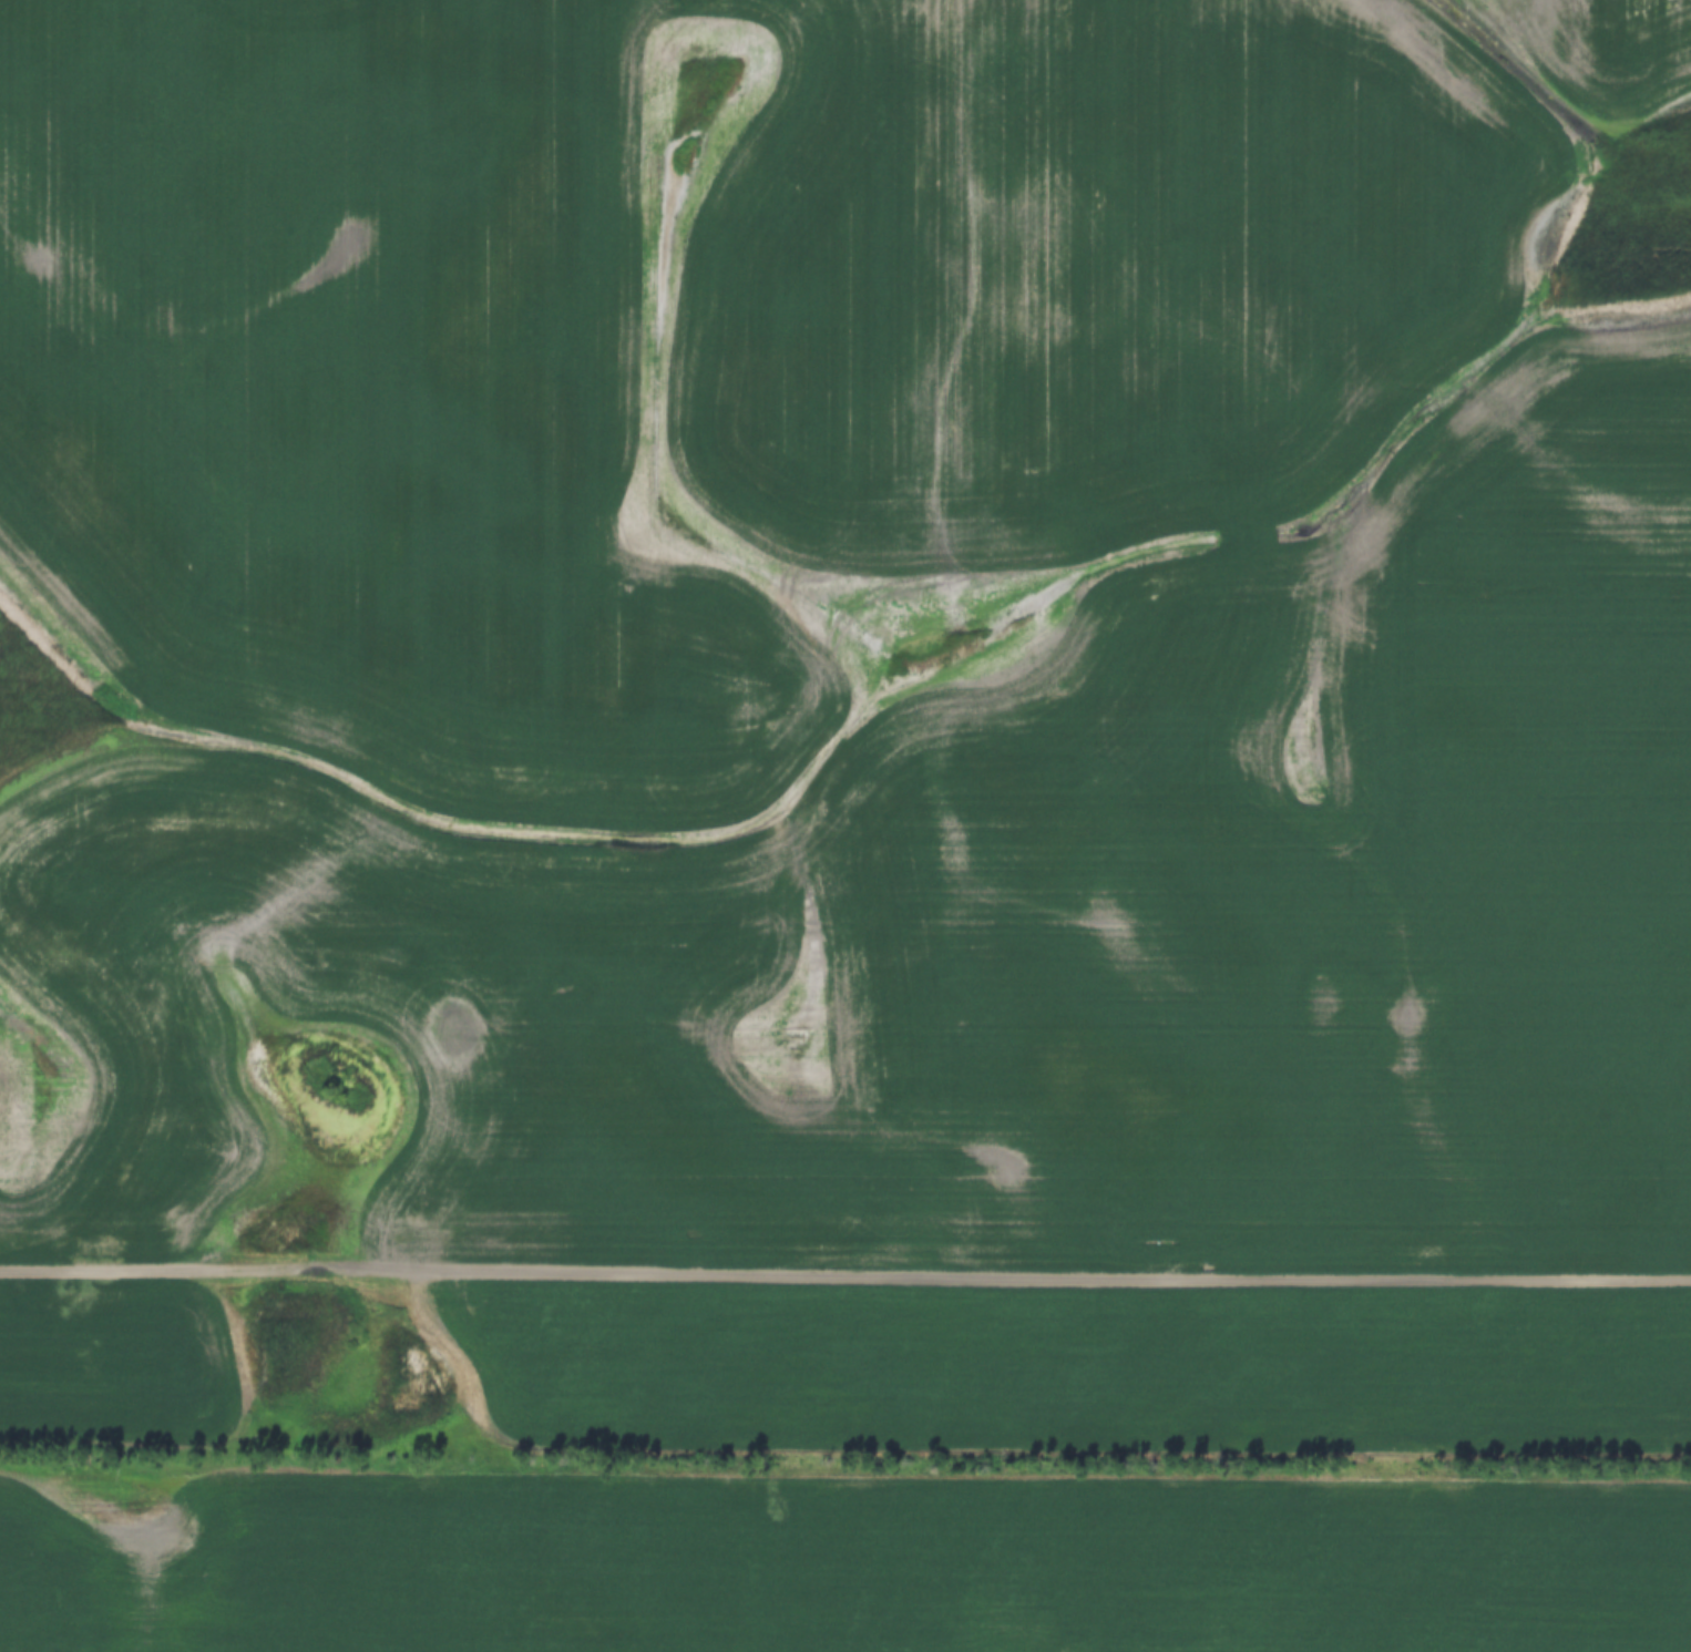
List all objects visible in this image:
road: (844, 1280)

